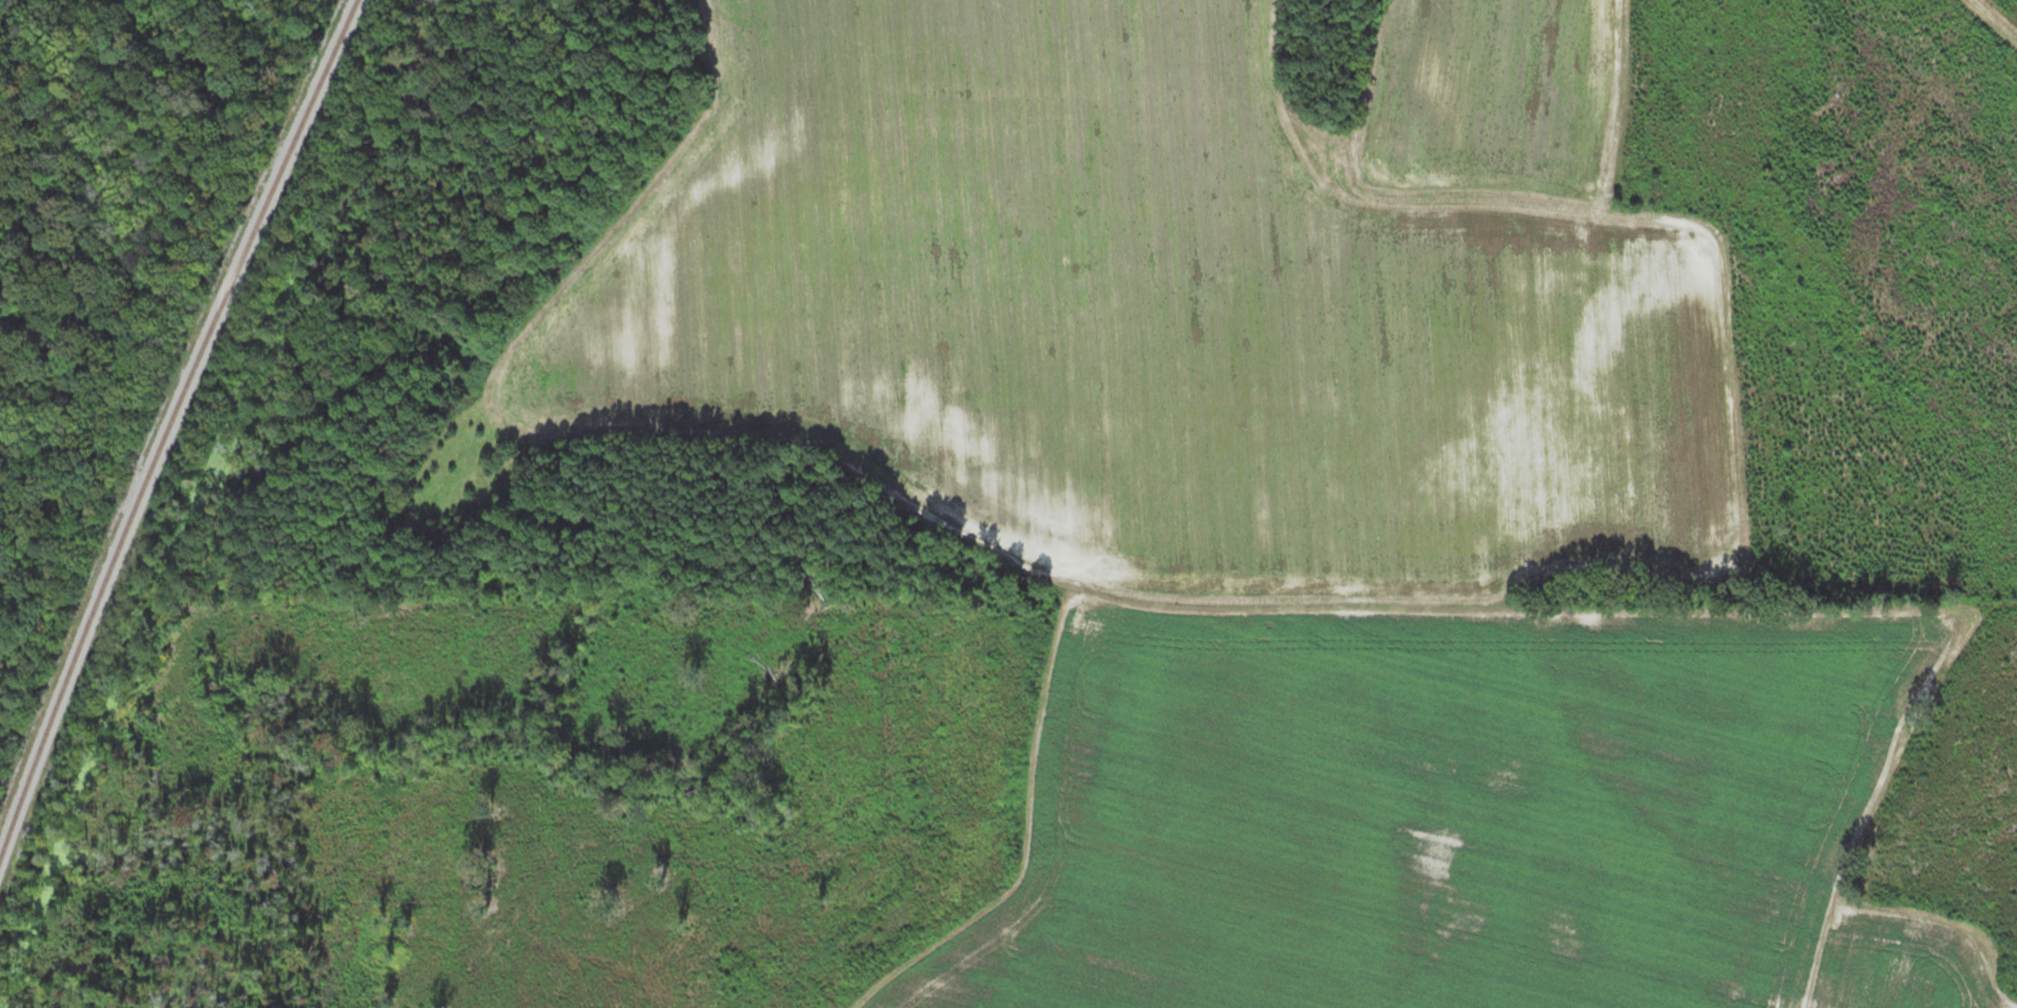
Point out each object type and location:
railway: (169, 426)
road: (1843, 470)

